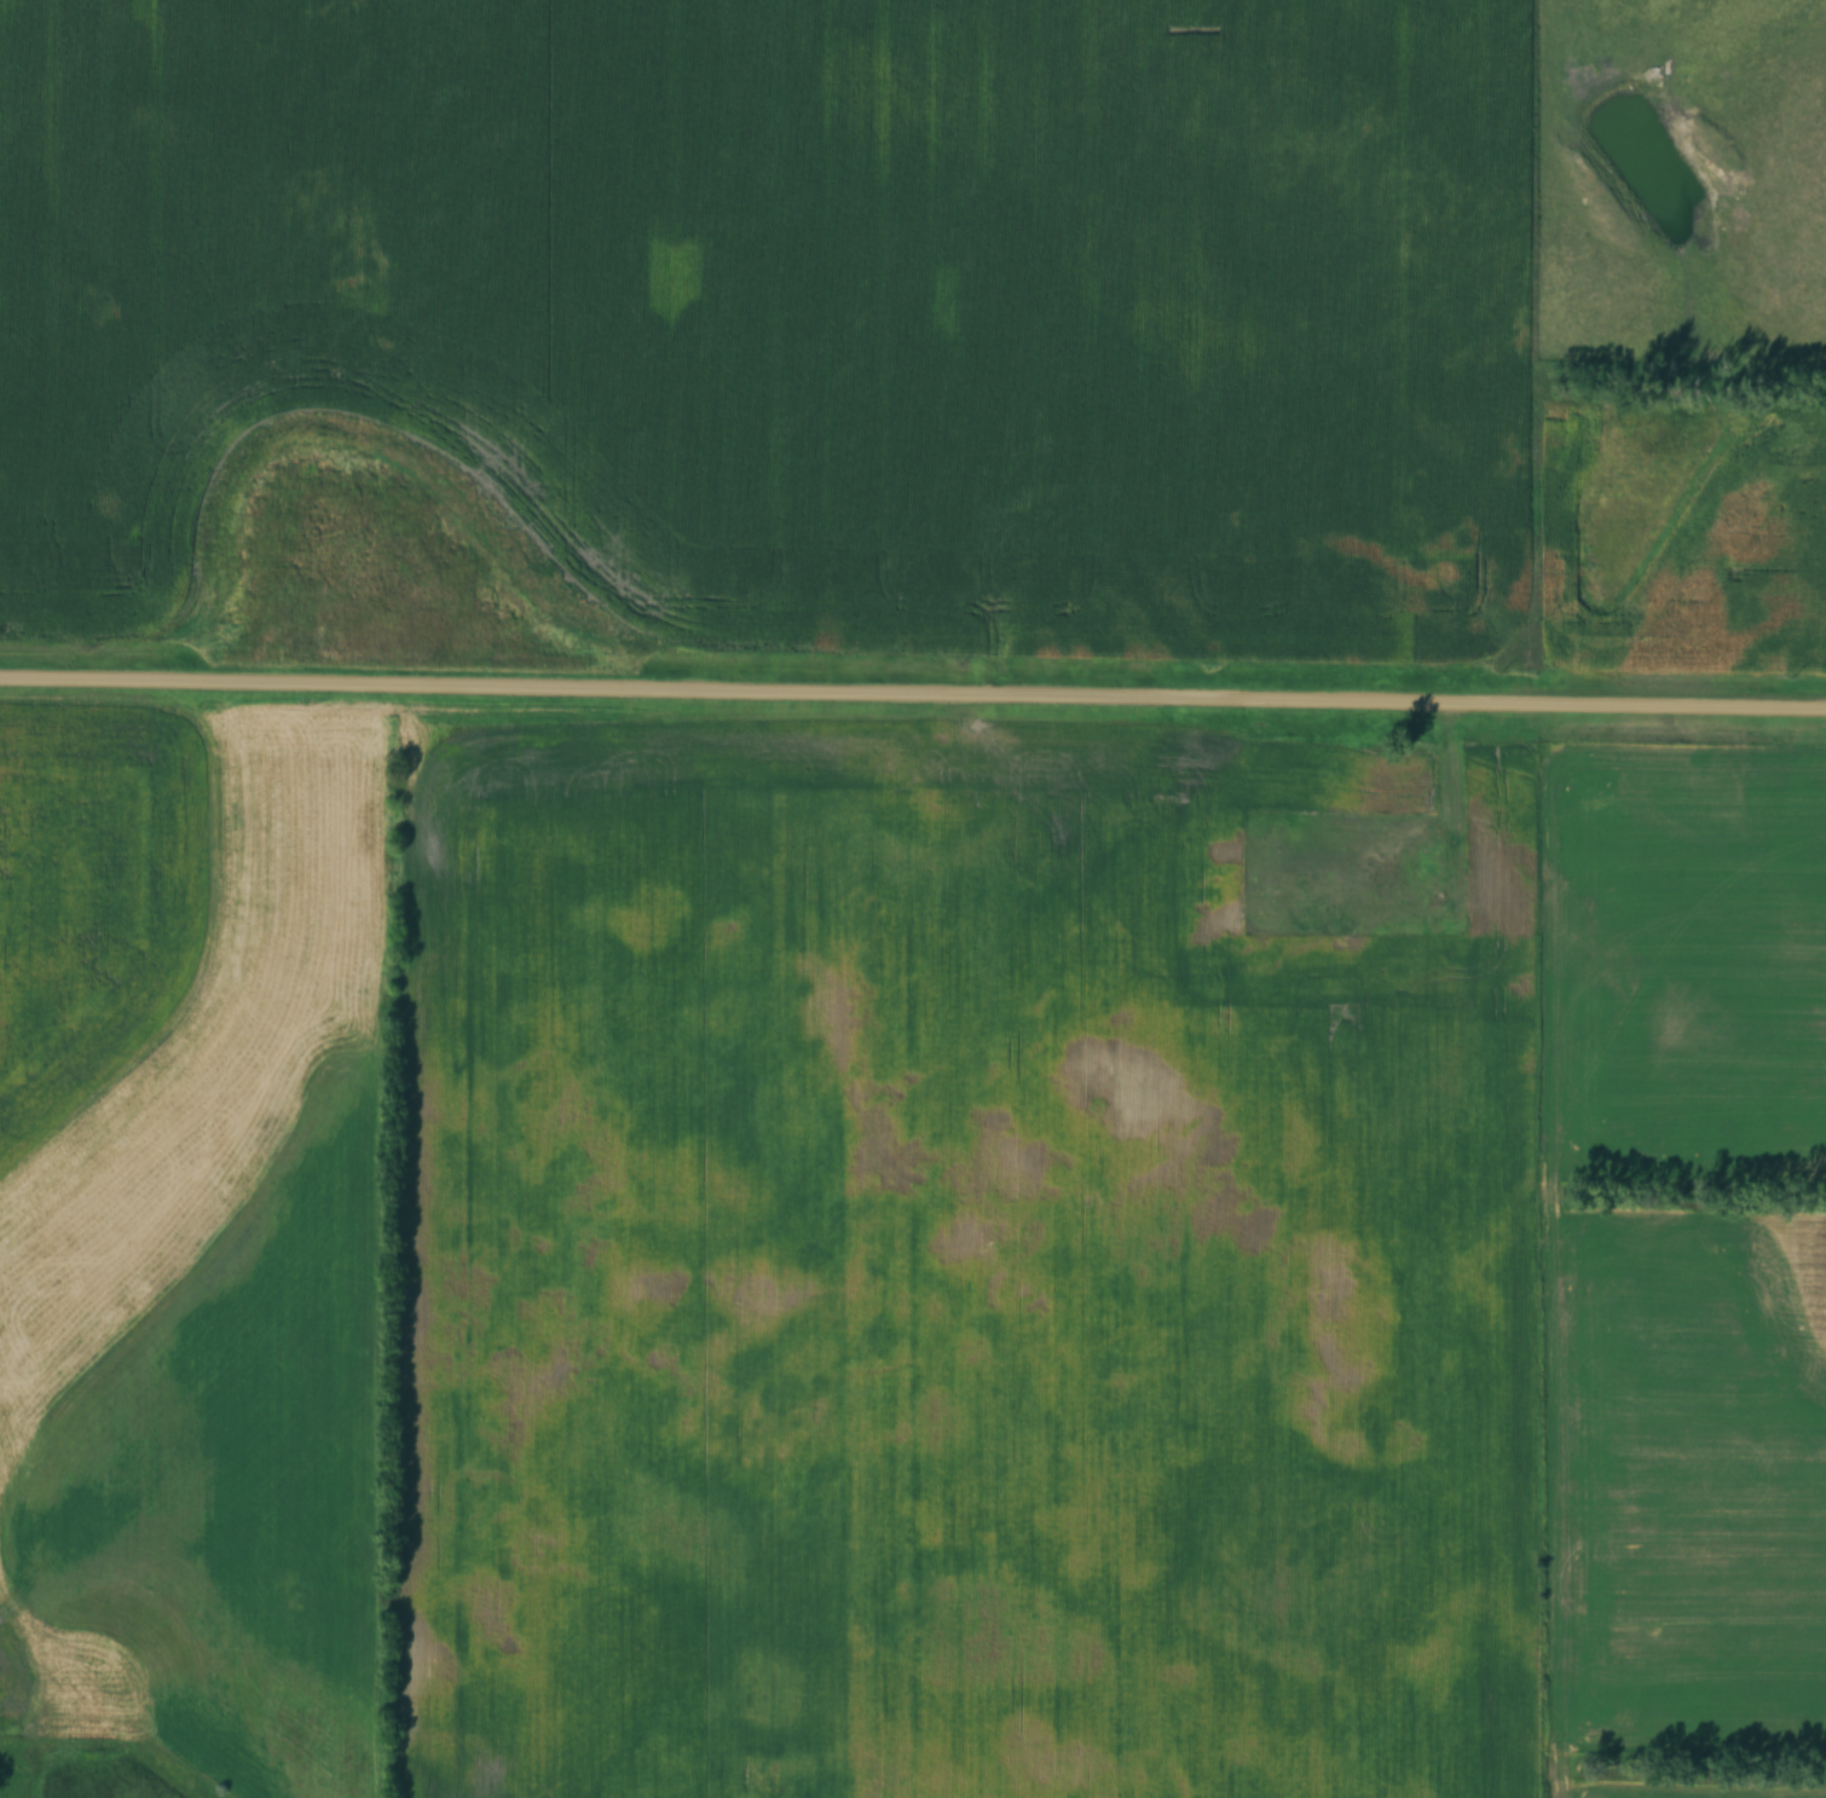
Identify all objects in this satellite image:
road: (913, 698)

